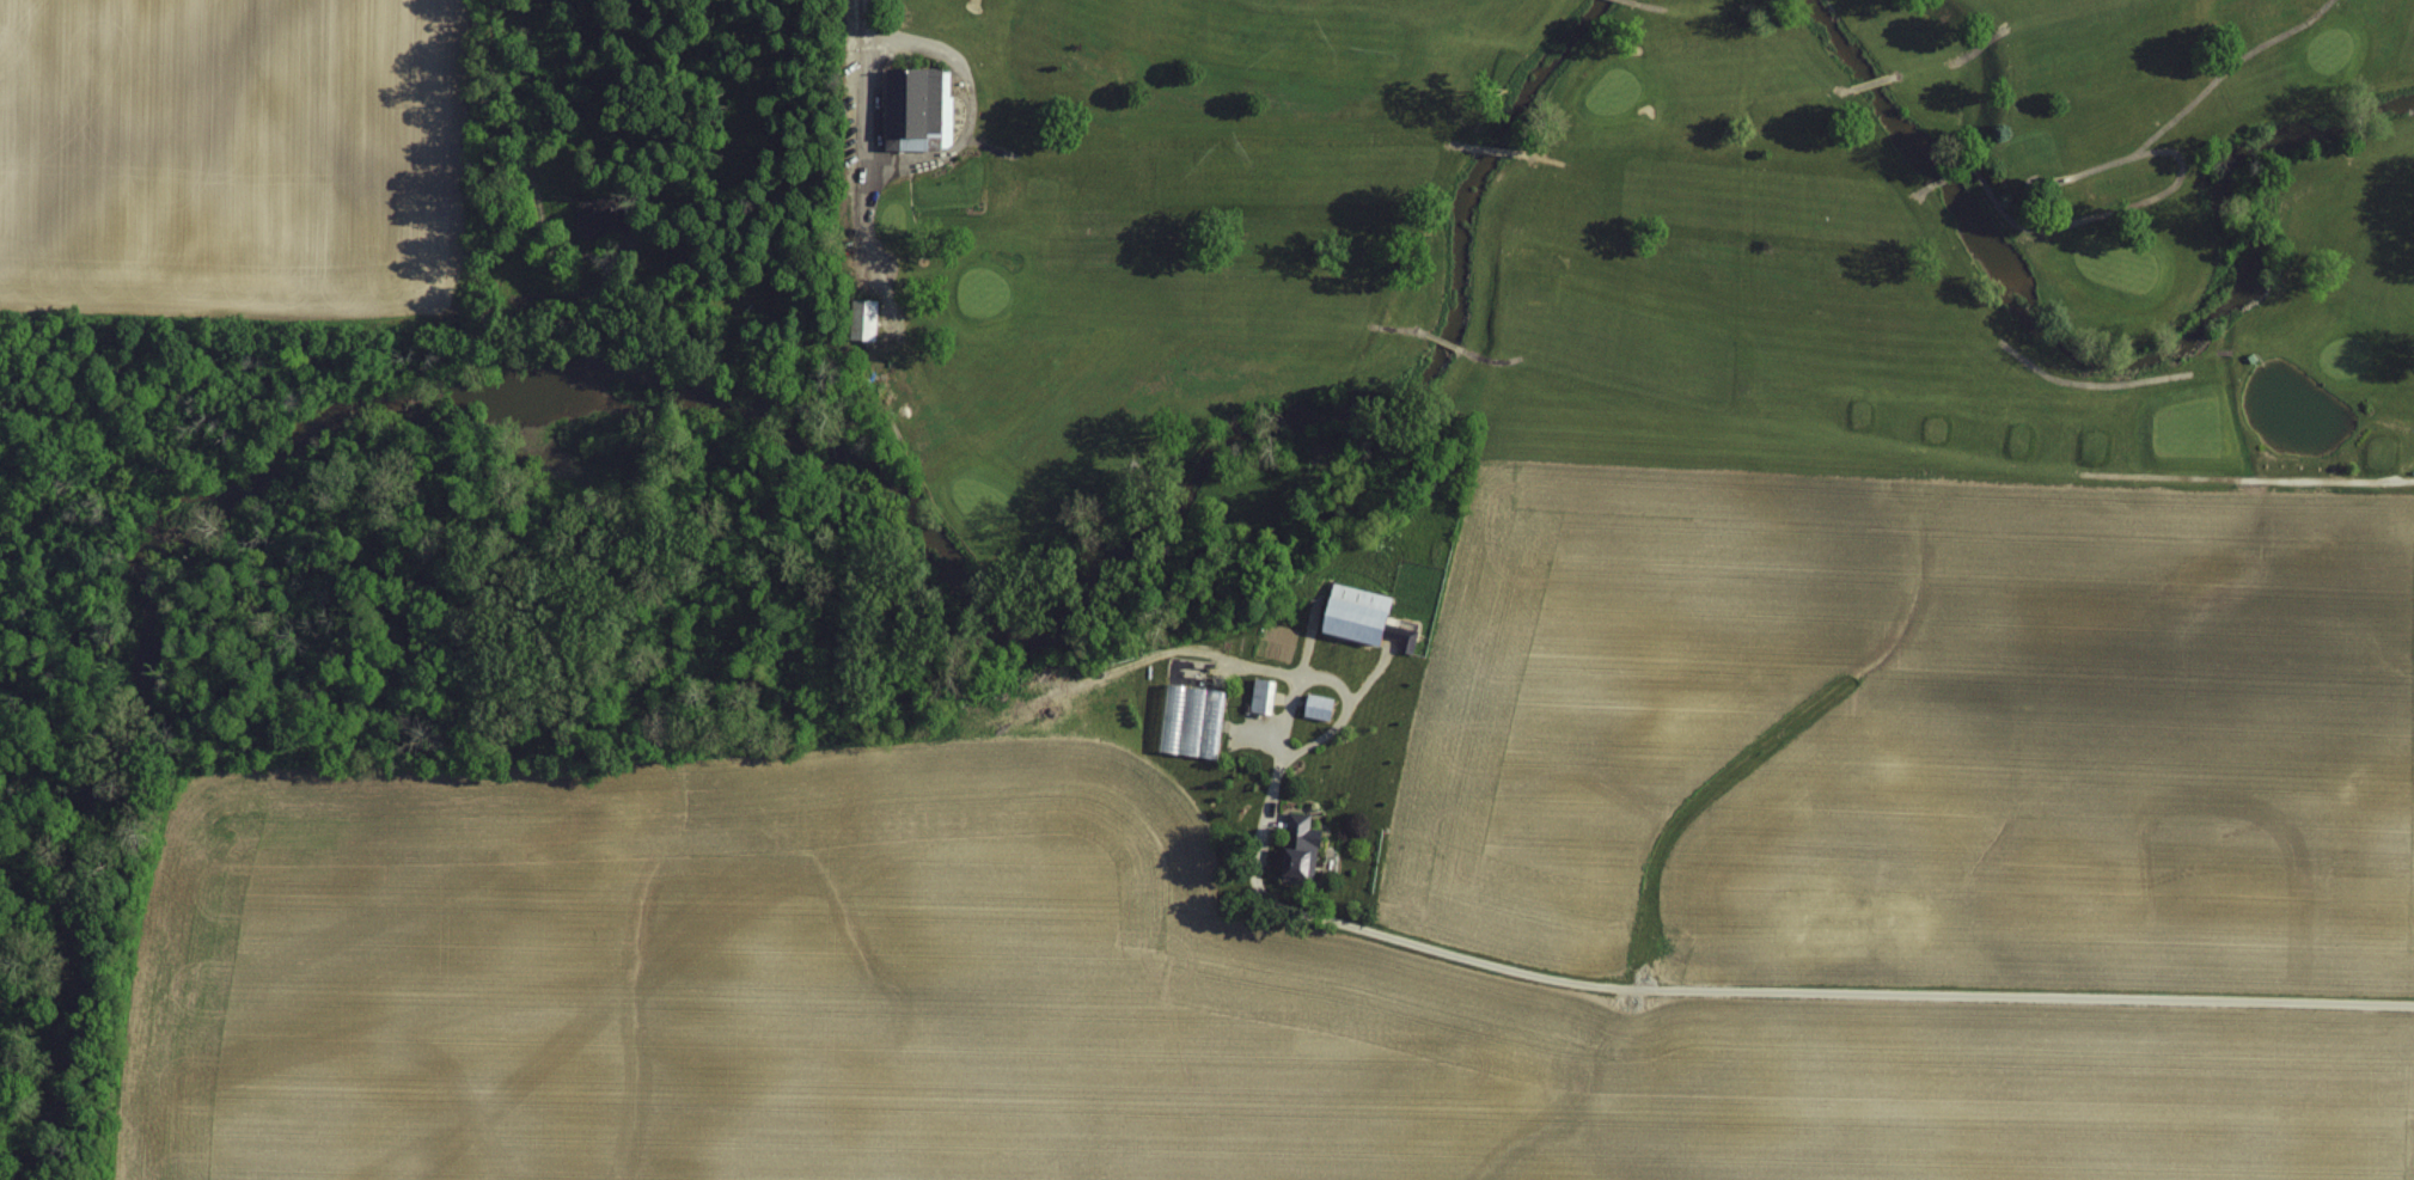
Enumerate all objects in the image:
road: (858, 221)
river: (2112, 359)
river: (745, 414)
road: (1333, 670)
road: (1758, 977)
road: (8, 1041)

